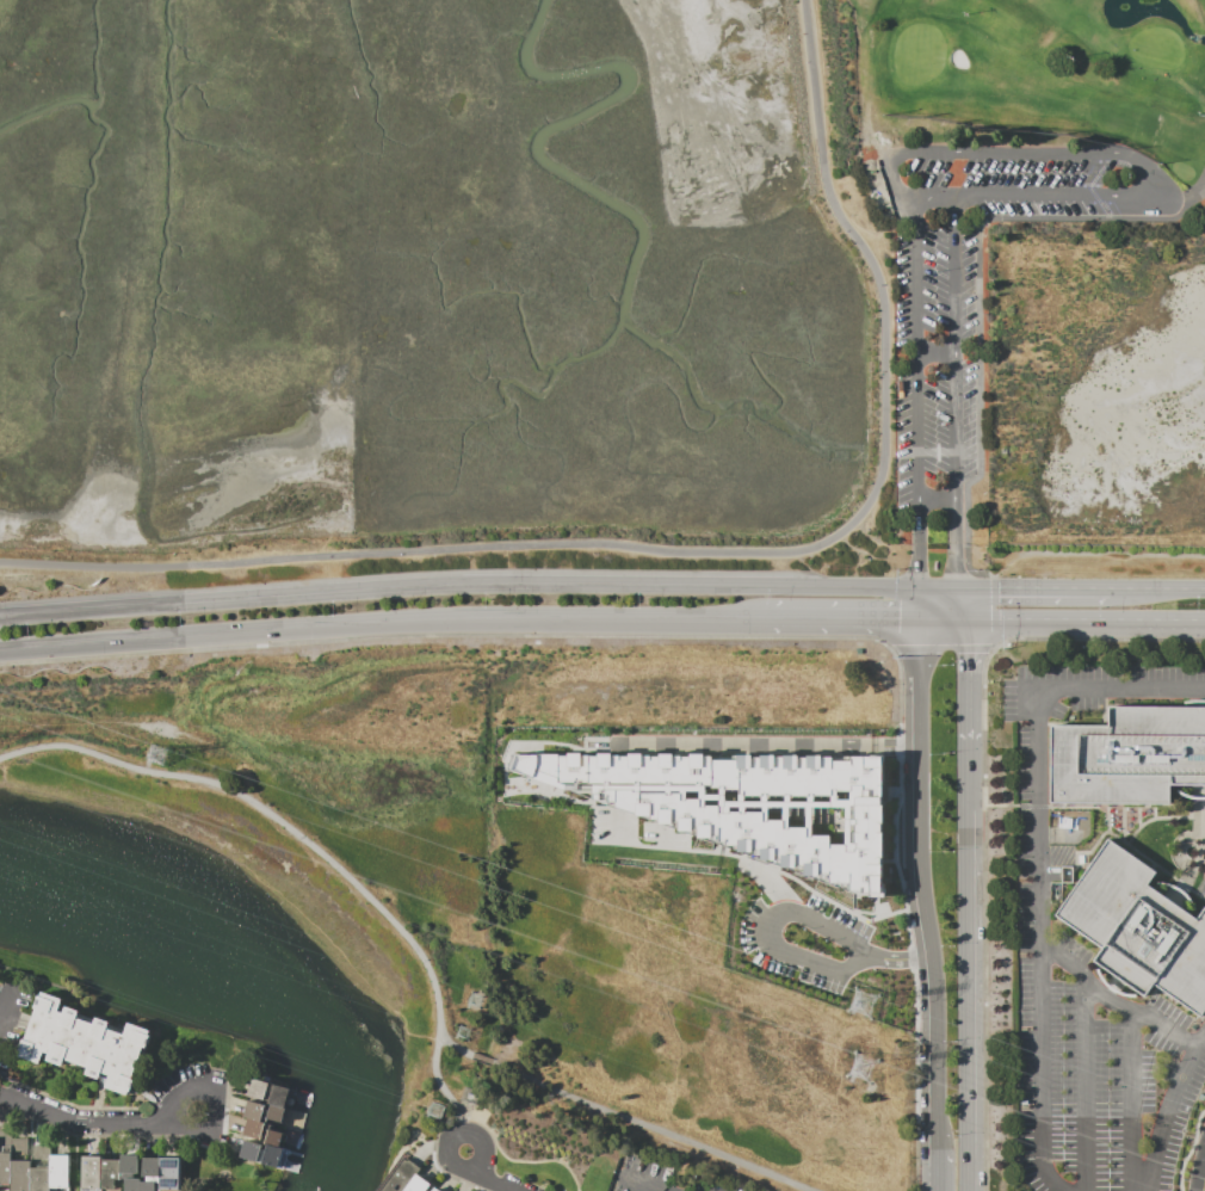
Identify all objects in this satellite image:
park: (1031, 107)
road: (1101, 156)
road: (937, 196)
road: (1194, 199)
parking lot: (978, 278)
road: (978, 308)
road: (937, 352)
road: (917, 390)
road: (956, 391)
road: (871, 536)
road: (879, 538)
road: (860, 551)
road: (21, 563)
road: (935, 573)
road: (458, 585)
road: (937, 587)
road: (1032, 588)
road: (1157, 588)
road: (919, 603)
road: (960, 603)
road: (843, 617)
road: (943, 618)
road: (384, 619)
road: (1037, 619)
road: (1156, 621)
road: (717, 636)
road: (1110, 638)
road: (978, 649)
road: (966, 681)
road: (742, 743)
road: (909, 747)
power tower: (155, 755)
building: (1126, 755)
road: (501, 769)
road: (966, 777)
road: (530, 778)
road: (543, 783)
building: (743, 797)
road: (593, 798)
road: (1093, 806)
parking lot: (740, 808)
road: (1201, 809)
road: (1153, 814)
road: (1137, 817)
road: (1155, 817)
road: (1121, 825)
road: (685, 844)
road: (1195, 846)
road: (712, 850)
road: (319, 854)
road: (673, 857)
road: (1034, 857)
road: (1155, 865)
road: (922, 884)
road: (828, 900)
road: (879, 901)
road: (982, 905)
parking lot: (1107, 920)
parking lot: (798, 927)
building: (1137, 928)
road: (783, 949)
power tower: (474, 999)
road: (968, 1000)
power tower: (861, 1004)
road: (1111, 1004)
road: (5, 1008)
power tower: (462, 1032)
building: (84, 1043)
power tower: (860, 1069)
road: (1, 1079)
road: (1083, 1084)
building: (267, 1092)
road: (208, 1097)
road: (1131, 1101)
road: (67, 1104)
road: (1166, 1109)
power tower: (435, 1110)
building: (261, 1111)
road: (624, 1115)
road: (84, 1127)
building: (261, 1131)
road: (1188, 1148)
building: (260, 1154)
road: (432, 1160)
building: (128, 1164)
building: (5, 1167)
building: (150, 1167)
building: (58, 1171)
building: (91, 1171)
building: (109, 1171)
road: (939, 1171)
building: (1137, 1172)
building: (169, 1174)
building: (19, 1175)
building: (398, 1175)
road: (482, 1177)
building: (39, 1179)
building: (131, 1184)
building: (147, 1185)
building: (419, 1185)
road: (1204, 1187)

